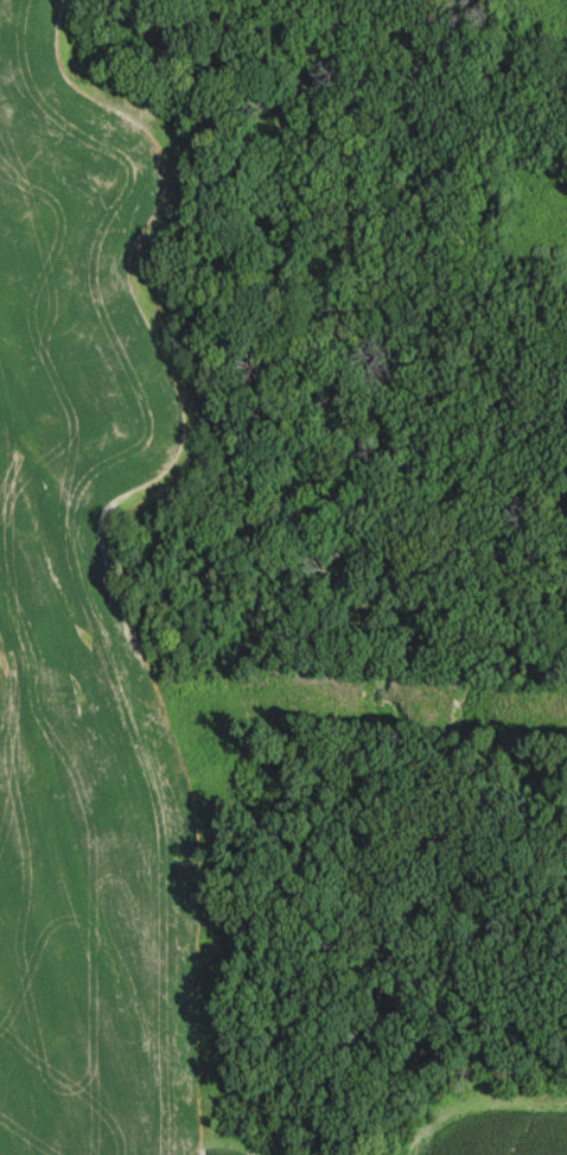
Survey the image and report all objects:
crop: (94, 622)
crop: (489, 1122)

